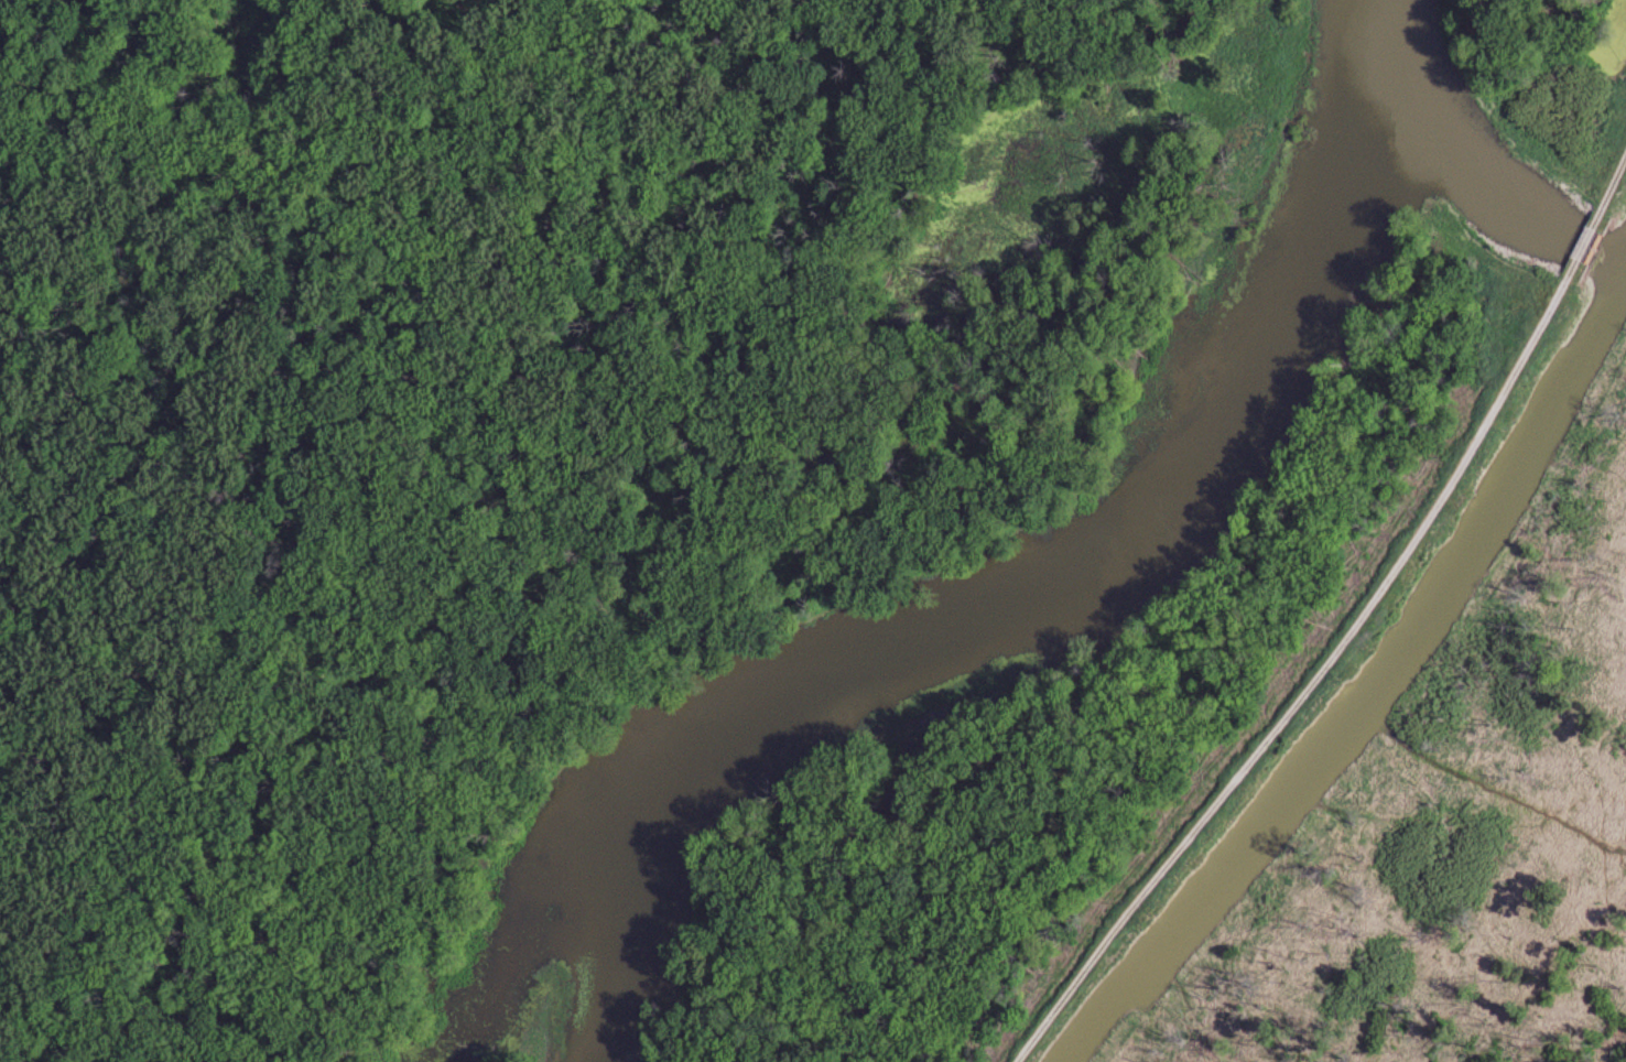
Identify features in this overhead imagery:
river: (1038, 608)
road: (1344, 625)

